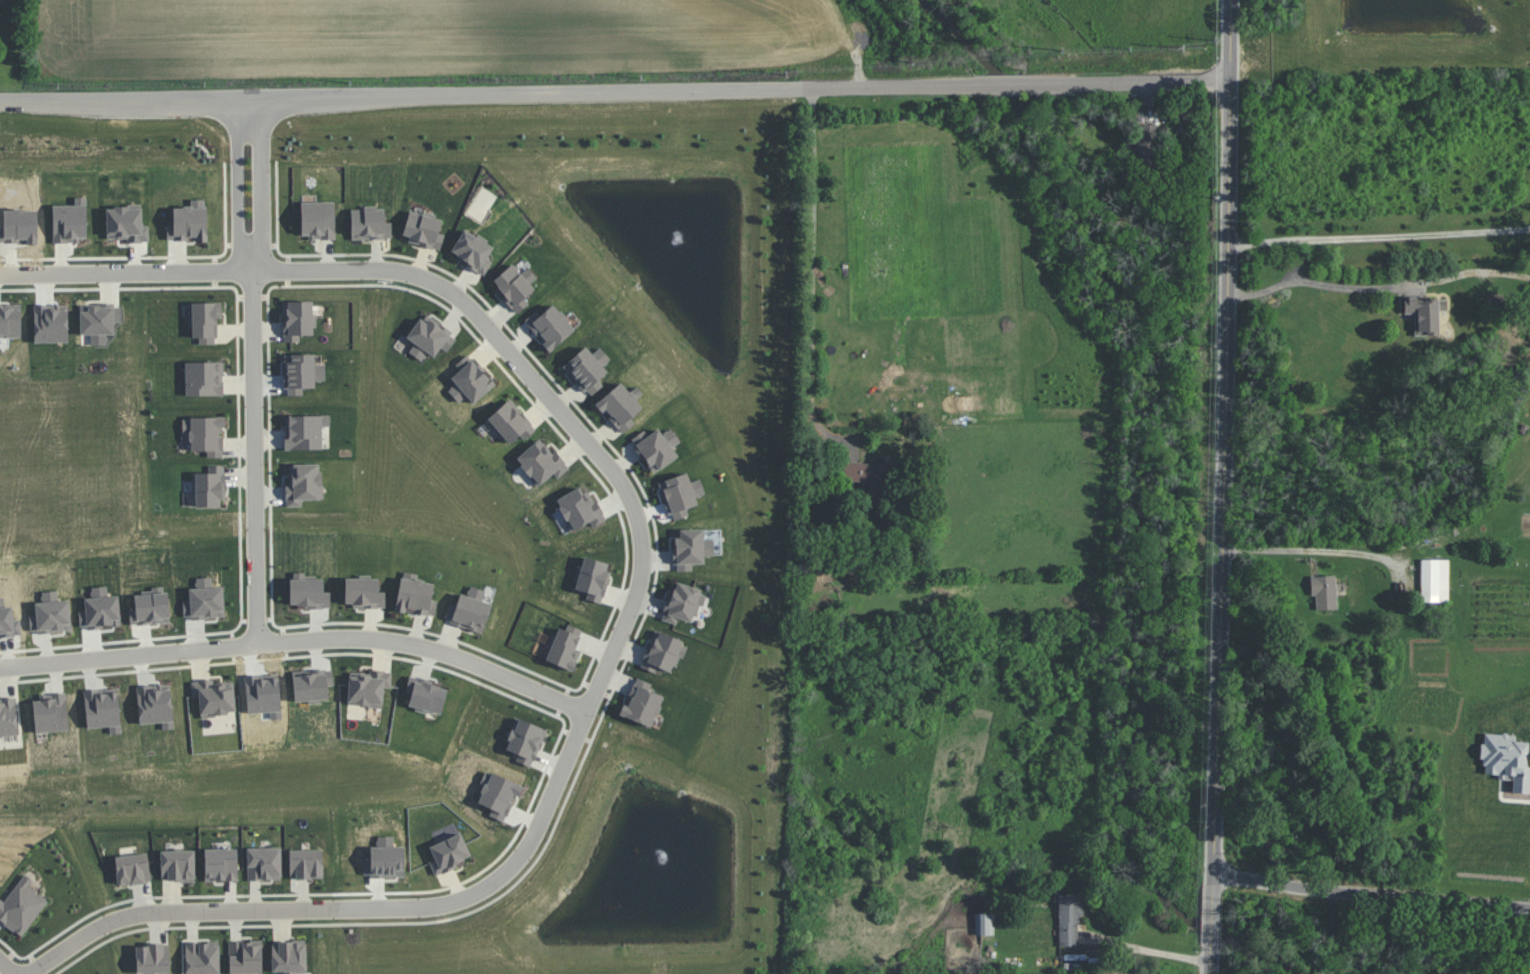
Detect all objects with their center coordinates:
road: (1128, 83)
road: (1004, 85)
road: (491, 92)
building: (1145, 143)
building: (317, 219)
building: (189, 222)
building: (369, 224)
building: (423, 230)
road: (1379, 236)
building: (472, 251)
road: (812, 261)
road: (253, 272)
road: (127, 274)
road: (1312, 282)
building: (515, 286)
building: (1425, 313)
building: (297, 319)
building: (99, 321)
building: (205, 321)
building: (550, 326)
building: (429, 338)
building: (588, 369)
building: (204, 378)
building: (470, 380)
building: (621, 406)
building: (510, 422)
building: (305, 431)
building: (205, 435)
road: (1225, 444)
building: (657, 447)
road: (257, 459)
building: (541, 462)
building: (867, 477)
building: (303, 484)
building: (210, 487)
building: (680, 494)
building: (691, 549)
road: (1315, 550)
building: (1434, 580)
building: (1324, 591)
building: (364, 593)
building: (415, 595)
building: (682, 603)
building: (469, 610)
road: (301, 642)
building: (565, 647)
building: (662, 652)
building: (368, 688)
building: (214, 697)
building: (641, 703)
road: (592, 709)
building: (50, 714)
building: (8, 717)
building: (525, 741)
building: (449, 853)
building: (264, 863)
building: (306, 863)
building: (220, 864)
building: (178, 865)
building: (132, 868)
road: (1371, 893)
building: (21, 906)
road: (1213, 918)
building: (1069, 920)
building: (984, 924)
road: (1150, 953)
building: (289, 956)
building: (202, 957)
building: (245, 957)
building: (152, 958)
road: (1211, 960)
road: (5, 967)

